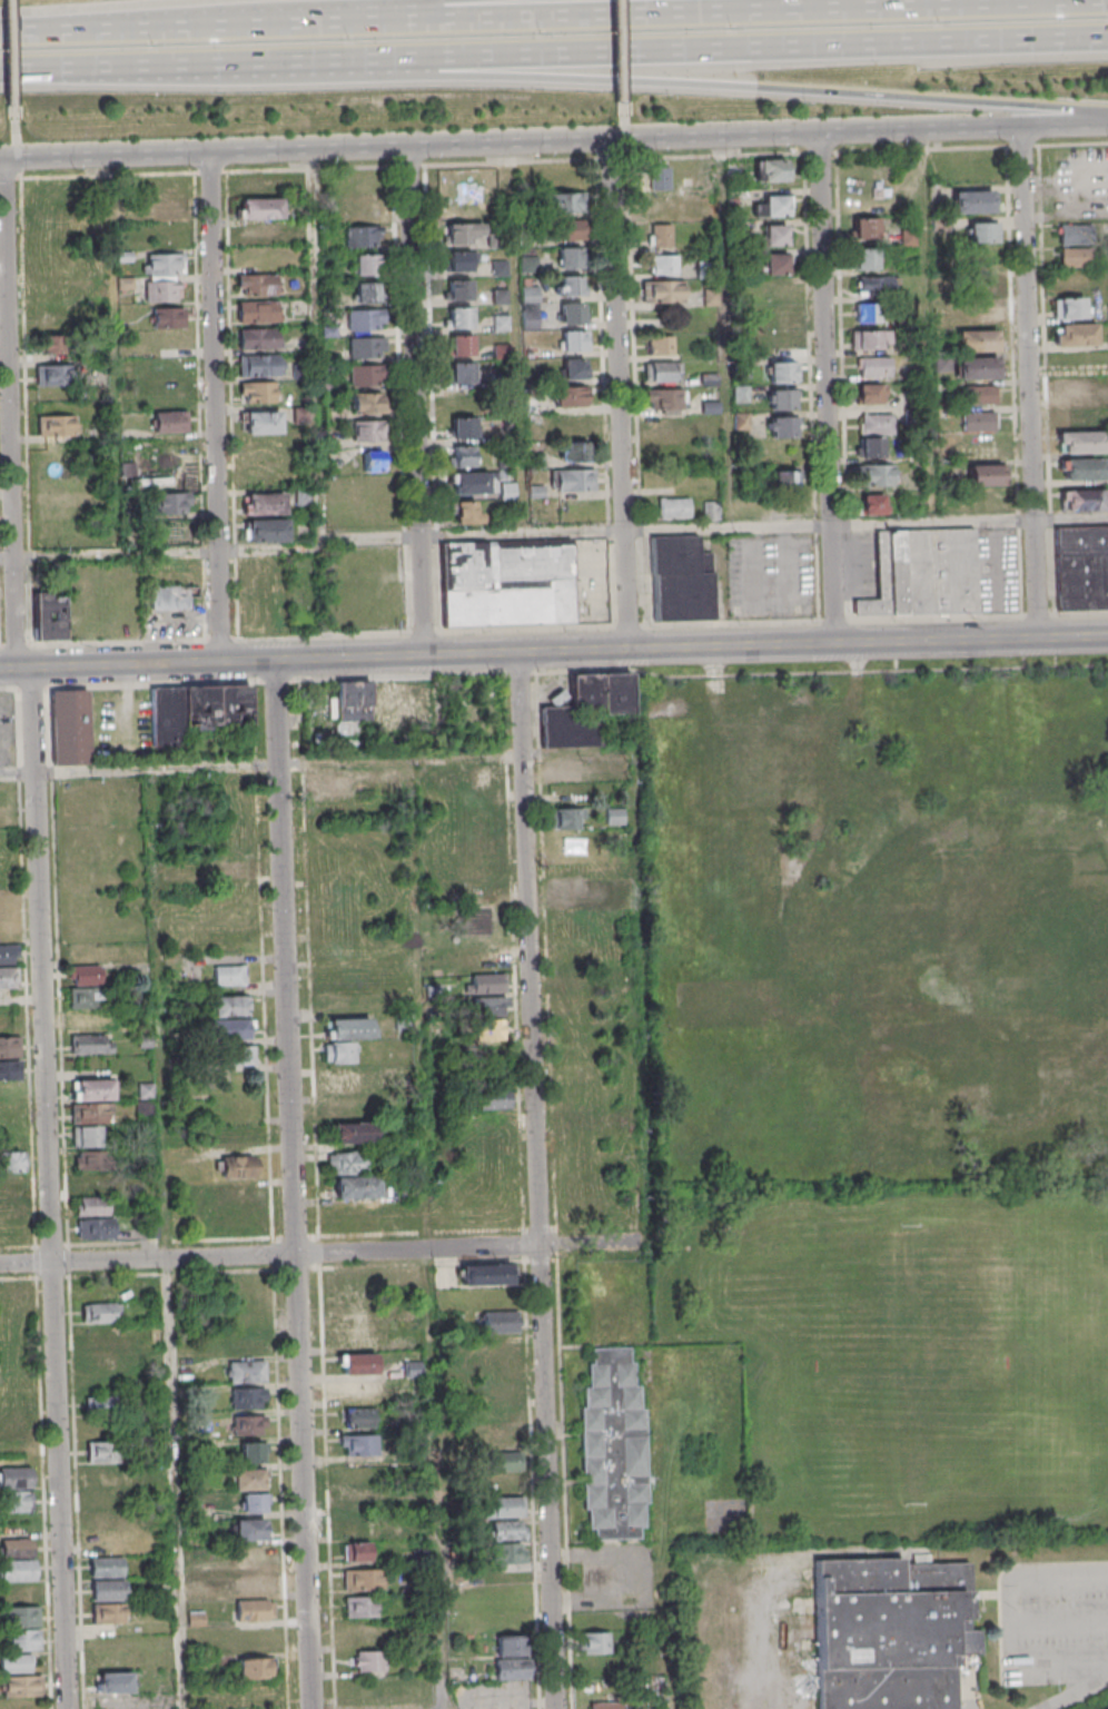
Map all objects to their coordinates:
road: (413, 8)
road: (594, 21)
road: (40, 37)
road: (771, 48)
road: (243, 66)
road: (10, 70)
road: (623, 70)
road: (26, 71)
road: (770, 93)
road: (1064, 126)
road: (510, 145)
road: (13, 148)
building: (769, 170)
building: (659, 177)
building: (566, 179)
building: (259, 184)
building: (973, 201)
building: (561, 202)
building: (662, 204)
building: (773, 206)
building: (258, 208)
building: (357, 208)
building: (165, 210)
building: (48, 214)
building: (865, 227)
building: (563, 230)
building: (985, 231)
building: (463, 233)
building: (1066, 233)
building: (260, 234)
building: (661, 235)
building: (775, 235)
building: (360, 236)
building: (568, 257)
building: (1075, 257)
building: (865, 258)
building: (461, 261)
building: (527, 263)
building: (364, 264)
building: (664, 264)
building: (776, 264)
building: (161, 276)
building: (256, 284)
building: (874, 285)
building: (983, 285)
building: (570, 286)
building: (458, 289)
building: (365, 292)
building: (663, 292)
building: (530, 294)
building: (1068, 307)
building: (257, 310)
building: (868, 312)
building: (985, 313)
building: (572, 314)
building: (168, 317)
building: (458, 317)
building: (776, 317)
building: (364, 319)
building: (528, 320)
road: (930, 327)
road: (731, 332)
building: (1074, 334)
building: (258, 337)
building: (870, 338)
road: (518, 339)
building: (574, 340)
building: (977, 340)
building: (56, 343)
road: (319, 345)
building: (459, 345)
building: (662, 345)
building: (779, 345)
building: (366, 347)
road: (115, 354)
building: (261, 365)
building: (875, 366)
building: (976, 367)
building: (575, 368)
building: (665, 372)
building: (784, 372)
building: (462, 373)
building: (51, 375)
building: (363, 375)
road: (1027, 383)
road: (825, 388)
building: (1078, 388)
building: (257, 392)
building: (164, 394)
building: (872, 394)
building: (979, 394)
road: (617, 395)
building: (570, 396)
building: (783, 398)
building: (365, 402)
road: (414, 402)
road: (219, 406)
building: (665, 412)
road: (11, 413)
building: (300, 415)
building: (1078, 415)
building: (742, 421)
building: (978, 421)
building: (170, 422)
building: (261, 422)
building: (877, 423)
building: (56, 425)
building: (477, 426)
building: (783, 427)
building: (366, 431)
building: (1080, 442)
building: (871, 446)
building: (980, 447)
building: (166, 448)
building: (572, 451)
building: (463, 456)
building: (374, 461)
building: (1084, 468)
building: (879, 474)
building: (985, 474)
building: (171, 475)
building: (785, 478)
building: (574, 480)
building: (473, 483)
building: (303, 498)
building: (1084, 500)
building: (171, 502)
building: (263, 503)
building: (873, 504)
building: (674, 507)
building: (711, 510)
building: (467, 513)
road: (1070, 520)
road: (827, 525)
building: (266, 530)
road: (311, 547)
building: (1081, 567)
building: (924, 574)
building: (681, 579)
building: (507, 584)
building: (169, 597)
building: (48, 615)
road: (690, 648)
road: (146, 664)
road: (9, 670)
building: (619, 695)
building: (353, 707)
building: (577, 717)
building: (169, 718)
building: (69, 727)
road: (260, 765)
building: (564, 770)
building: (484, 772)
building: (337, 786)
building: (614, 816)
building: (568, 818)
building: (484, 821)
building: (479, 867)
building: (234, 868)
building: (570, 888)
building: (6, 908)
building: (6, 931)
building: (8, 955)
building: (482, 960)
building: (229, 975)
building: (85, 976)
building: (8, 977)
building: (571, 980)
building: (488, 982)
building: (348, 997)
building: (229, 1005)
building: (489, 1006)
building: (87, 1009)
building: (227, 1028)
building: (348, 1028)
building: (492, 1029)
building: (91, 1044)
building: (9, 1046)
building: (338, 1051)
building: (233, 1055)
building: (10, 1069)
building: (349, 1081)
building: (494, 1098)
building: (92, 1100)
building: (145, 1109)
building: (352, 1109)
building: (582, 1118)
building: (353, 1133)
building: (90, 1136)
building: (230, 1136)
building: (495, 1145)
building: (346, 1163)
building: (239, 1166)
building: (12, 1173)
building: (92, 1173)
road: (535, 1181)
road: (291, 1184)
building: (356, 1187)
road: (48, 1188)
building: (233, 1194)
building: (92, 1206)
building: (108, 1229)
road: (423, 1235)
road: (167, 1238)
road: (323, 1253)
building: (487, 1274)
building: (352, 1310)
building: (101, 1312)
building: (501, 1322)
building: (357, 1336)
building: (247, 1344)
building: (98, 1347)
building: (502, 1356)
building: (357, 1363)
park: (880, 1364)
park: (913, 1365)
building: (245, 1371)
building: (358, 1390)
building: (502, 1391)
building: (248, 1397)
building: (100, 1405)
building: (357, 1417)
building: (249, 1424)
building: (14, 1431)
building: (503, 1436)
building: (358, 1444)
building: (614, 1448)
building: (102, 1451)
building: (253, 1451)
building: (505, 1472)
building: (106, 1475)
building: (16, 1476)
building: (249, 1479)
building: (359, 1499)
building: (17, 1501)
building: (255, 1502)
building: (106, 1521)
building: (358, 1527)
building: (250, 1529)
building: (508, 1530)
building: (357, 1551)
building: (250, 1555)
building: (17, 1559)
building: (106, 1565)
building: (364, 1579)
building: (255, 1582)
building: (108, 1590)
building: (362, 1607)
building: (254, 1611)
building: (108, 1613)
building: (22, 1617)
road: (1016, 1620)
parking lot: (1055, 1622)
building: (889, 1632)
building: (594, 1642)
building: (510, 1644)
building: (368, 1660)
building: (16, 1663)
building: (255, 1668)
building: (512, 1669)
building: (112, 1671)
building: (21, 1686)
road: (1075, 1692)
building: (606, 1705)

